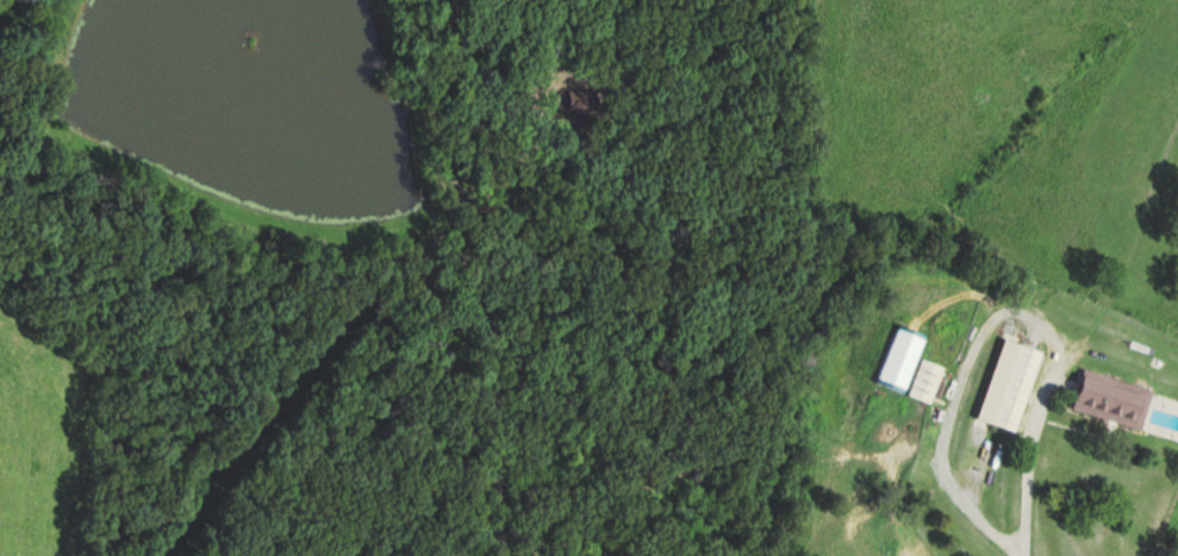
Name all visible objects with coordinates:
building: (924, 380)
building: (1015, 387)
building: (1110, 398)

